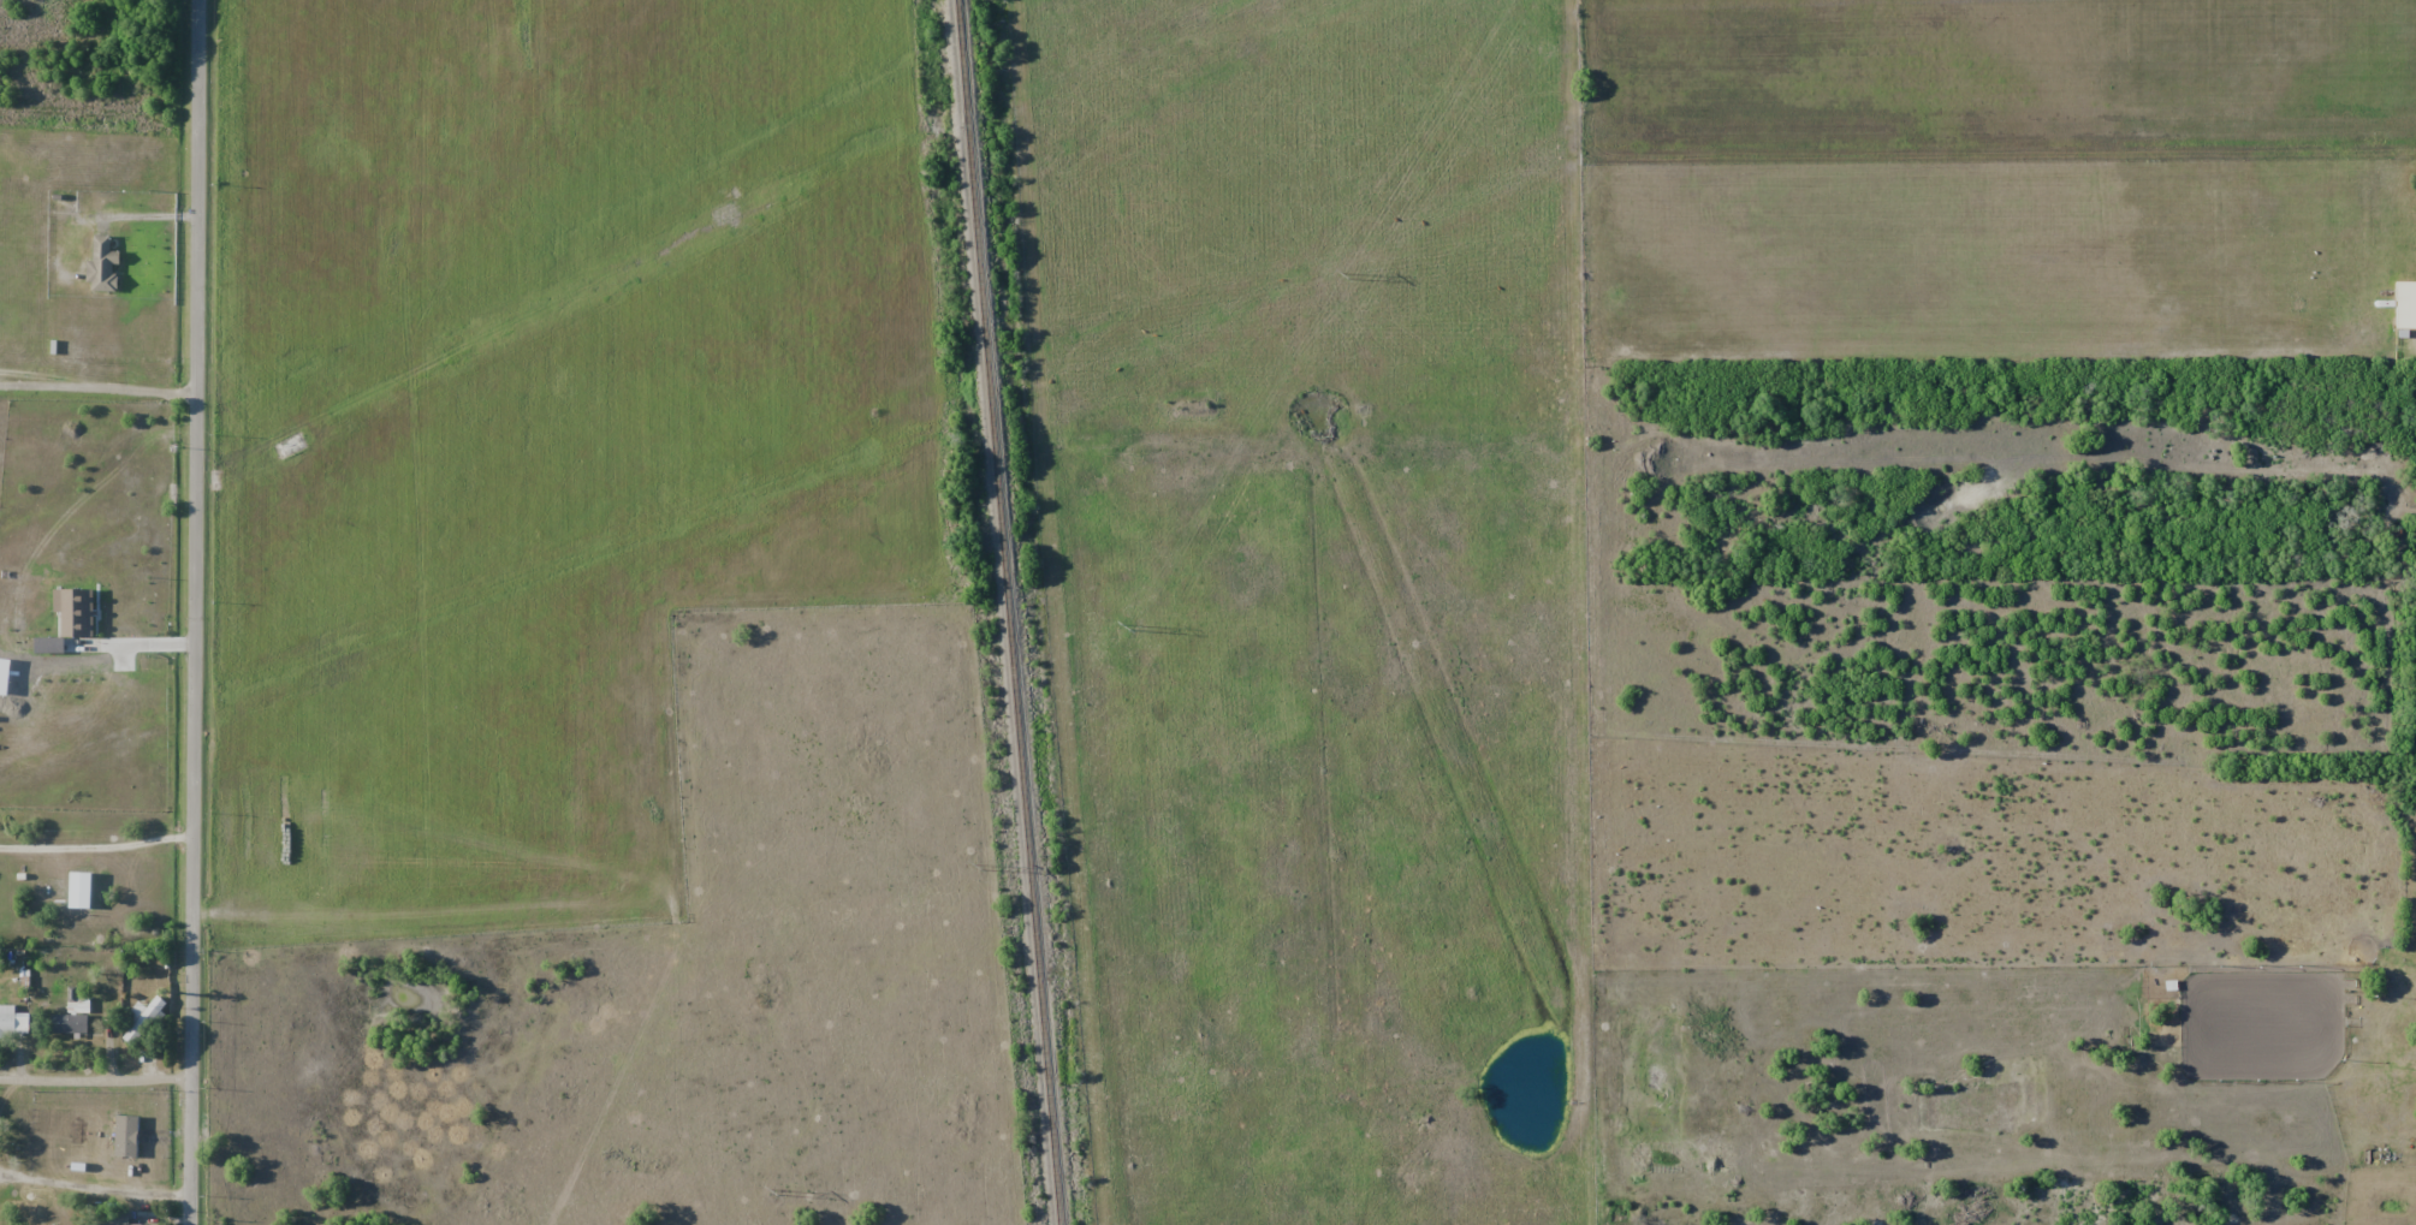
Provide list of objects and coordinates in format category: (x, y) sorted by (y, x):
road: (172, 17)
power tower: (1342, 275)
building: (2405, 304)
road: (101, 386)
road: (198, 612)
railway: (1007, 612)
power tower: (1124, 629)
road: (97, 843)
power tower: (974, 867)
building: (7, 1019)
building: (143, 1019)
building: (70, 1022)
road: (96, 1078)
road: (95, 1187)
power tower: (772, 1193)
building: (119, 1219)

